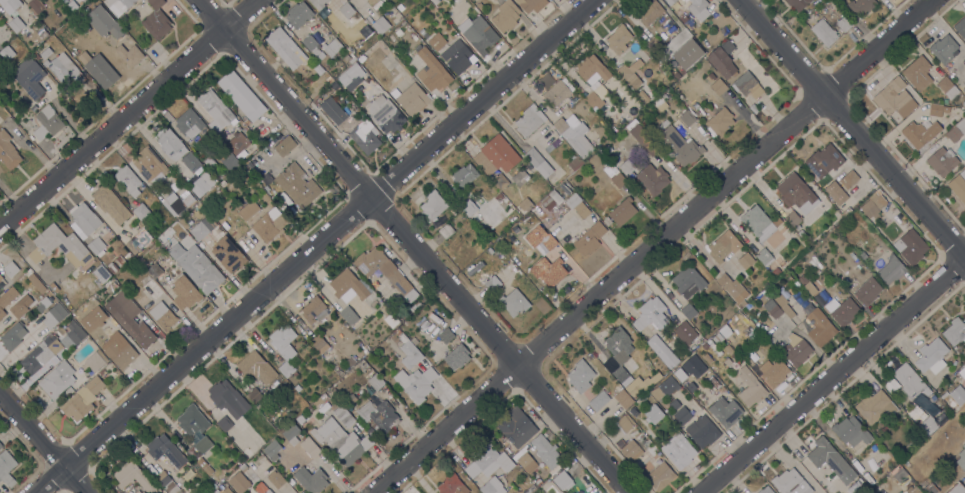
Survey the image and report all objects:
building: (95, 1)
building: (434, 1)
building: (670, 2)
building: (319, 3)
building: (797, 3)
building: (71, 4)
building: (527, 4)
building: (9, 5)
building: (118, 5)
building: (479, 5)
building: (35, 6)
building: (861, 6)
building: (400, 7)
building: (829, 8)
building: (698, 9)
building: (346, 11)
building: (650, 13)
building: (103, 14)
building: (298, 14)
building: (505, 16)
building: (683, 18)
building: (367, 19)
building: (156, 20)
building: (690, 21)
building: (844, 23)
building: (380, 25)
building: (18, 26)
building: (961, 27)
building: (115, 30)
building: (723, 30)
building: (398, 32)
building: (824, 32)
building: (478, 33)
building: (618, 39)
building: (436, 41)
building: (311, 44)
building: (332, 47)
building: (285, 48)
building: (943, 49)
building: (6, 53)
building: (46, 53)
building: (686, 54)
building: (320, 55)
building: (362, 59)
building: (459, 59)
building: (722, 59)
building: (964, 61)
building: (114, 64)
building: (63, 68)
building: (353, 68)
building: (432, 71)
building: (964, 71)
building: (630, 73)
building: (918, 73)
building: (321, 74)
building: (710, 77)
building: (32, 78)
building: (343, 78)
building: (398, 78)
building: (544, 79)
building: (593, 79)
building: (945, 84)
building: (747, 85)
building: (719, 86)
building: (964, 89)
building: (557, 93)
building: (241, 95)
building: (894, 98)
building: (412, 99)
building: (317, 101)
building: (963, 104)
building: (753, 108)
building: (215, 110)
building: (935, 110)
building: (333, 111)
building: (386, 114)
road: (131, 115)
building: (687, 118)
building: (529, 120)
building: (47, 122)
building: (720, 122)
building: (189, 123)
building: (631, 128)
building: (957, 131)
road: (855, 132)
building: (919, 133)
building: (575, 135)
building: (364, 136)
building: (646, 142)
building: (170, 144)
building: (238, 144)
building: (678, 144)
building: (285, 146)
building: (8, 151)
building: (499, 153)
building: (221, 160)
building: (824, 160)
building: (942, 161)
building: (148, 163)
building: (538, 163)
building: (574, 163)
building: (625, 165)
building: (962, 173)
building: (464, 177)
building: (520, 177)
building: (243, 178)
building: (653, 179)
building: (849, 179)
building: (128, 180)
building: (618, 180)
building: (500, 181)
building: (222, 183)
building: (201, 184)
building: (297, 185)
building: (958, 187)
building: (493, 189)
building: (796, 193)
building: (836, 193)
building: (264, 196)
building: (555, 197)
building: (179, 202)
building: (547, 202)
building: (270, 203)
building: (110, 204)
building: (525, 204)
building: (873, 204)
building: (432, 205)
building: (577, 205)
building: (468, 207)
building: (283, 208)
building: (248, 210)
building: (141, 211)
building: (454, 211)
building: (622, 211)
building: (793, 218)
building: (83, 220)
building: (777, 221)
building: (183, 222)
building: (757, 222)
building: (269, 224)
building: (203, 227)
building: (446, 230)
building: (589, 238)
building: (547, 239)
building: (134, 244)
building: (524, 244)
building: (96, 246)
road: (314, 246)
road: (412, 246)
road: (652, 246)
building: (910, 246)
building: (720, 248)
building: (530, 249)
building: (66, 250)
building: (489, 251)
building: (228, 254)
building: (862, 255)
building: (764, 256)
building: (120, 260)
building: (745, 260)
building: (781, 264)
building: (197, 267)
building: (10, 268)
building: (112, 268)
building: (153, 269)
building: (891, 269)
building: (384, 271)
building: (550, 271)
building: (0, 277)
building: (789, 279)
building: (688, 281)
building: (36, 282)
building: (491, 283)
building: (807, 284)
building: (110, 286)
building: (53, 287)
building: (350, 287)
building: (733, 289)
building: (790, 290)
building: (765, 291)
building: (868, 291)
building: (185, 293)
building: (99, 295)
building: (7, 299)
building: (783, 301)
building: (514, 302)
building: (43, 304)
building: (98, 306)
building: (17, 309)
building: (312, 309)
building: (772, 309)
building: (841, 310)
building: (688, 311)
building: (650, 314)
building: (54, 315)
building: (162, 315)
building: (348, 315)
building: (81, 320)
building: (130, 320)
building: (391, 320)
building: (815, 321)
building: (87, 328)
building: (429, 328)
building: (61, 330)
building: (723, 330)
building: (955, 331)
building: (685, 333)
building: (96, 334)
building: (72, 335)
building: (446, 335)
building: (12, 337)
building: (717, 338)
building: (318, 342)
building: (705, 345)
building: (283, 346)
building: (728, 349)
building: (119, 350)
building: (796, 350)
building: (662, 351)
building: (409, 353)
building: (41, 354)
building: (618, 354)
building: (734, 355)
building: (931, 356)
building: (456, 357)
building: (707, 358)
building: (94, 361)
building: (349, 361)
building: (727, 362)
building: (692, 364)
building: (362, 365)
building: (256, 368)
road: (830, 370)
building: (102, 372)
building: (774, 372)
building: (962, 372)
building: (680, 375)
building: (580, 376)
building: (57, 379)
building: (651, 379)
building: (910, 381)
building: (416, 383)
building: (373, 384)
building: (668, 385)
building: (691, 387)
building: (297, 388)
building: (750, 388)
building: (256, 397)
building: (325, 397)
building: (642, 397)
building: (623, 398)
building: (228, 399)
building: (954, 399)
building: (81, 400)
building: (350, 400)
building: (599, 401)
building: (317, 402)
building: (673, 404)
building: (325, 406)
building: (875, 407)
building: (633, 411)
building: (725, 412)
building: (654, 414)
building: (378, 415)
building: (681, 415)
building: (344, 416)
building: (192, 420)
building: (224, 423)
building: (624, 424)
building: (928, 425)
building: (516, 427)
building: (702, 431)
building: (850, 431)
building: (291, 434)
building: (341, 441)
building: (0, 445)
building: (309, 446)
building: (199, 447)
road: (38, 449)
building: (629, 449)
building: (272, 450)
building: (678, 450)
building: (165, 451)
building: (546, 451)
building: (248, 452)
building: (961, 458)
building: (525, 459)
building: (831, 460)
building: (488, 462)
building: (202, 463)
building: (243, 467)
building: (7, 468)
building: (660, 476)
building: (134, 477)
building: (275, 479)
building: (311, 480)
building: (562, 480)
building: (239, 482)
building: (538, 482)
building: (790, 482)
building: (901, 482)
building: (167, 483)
building: (452, 485)
building: (492, 486)
building: (262, 488)
building: (930, 488)
building: (530, 489)
building: (957, 489)
building: (765, 490)
building: (913, 490)
building: (137, 491)
building: (226, 491)

